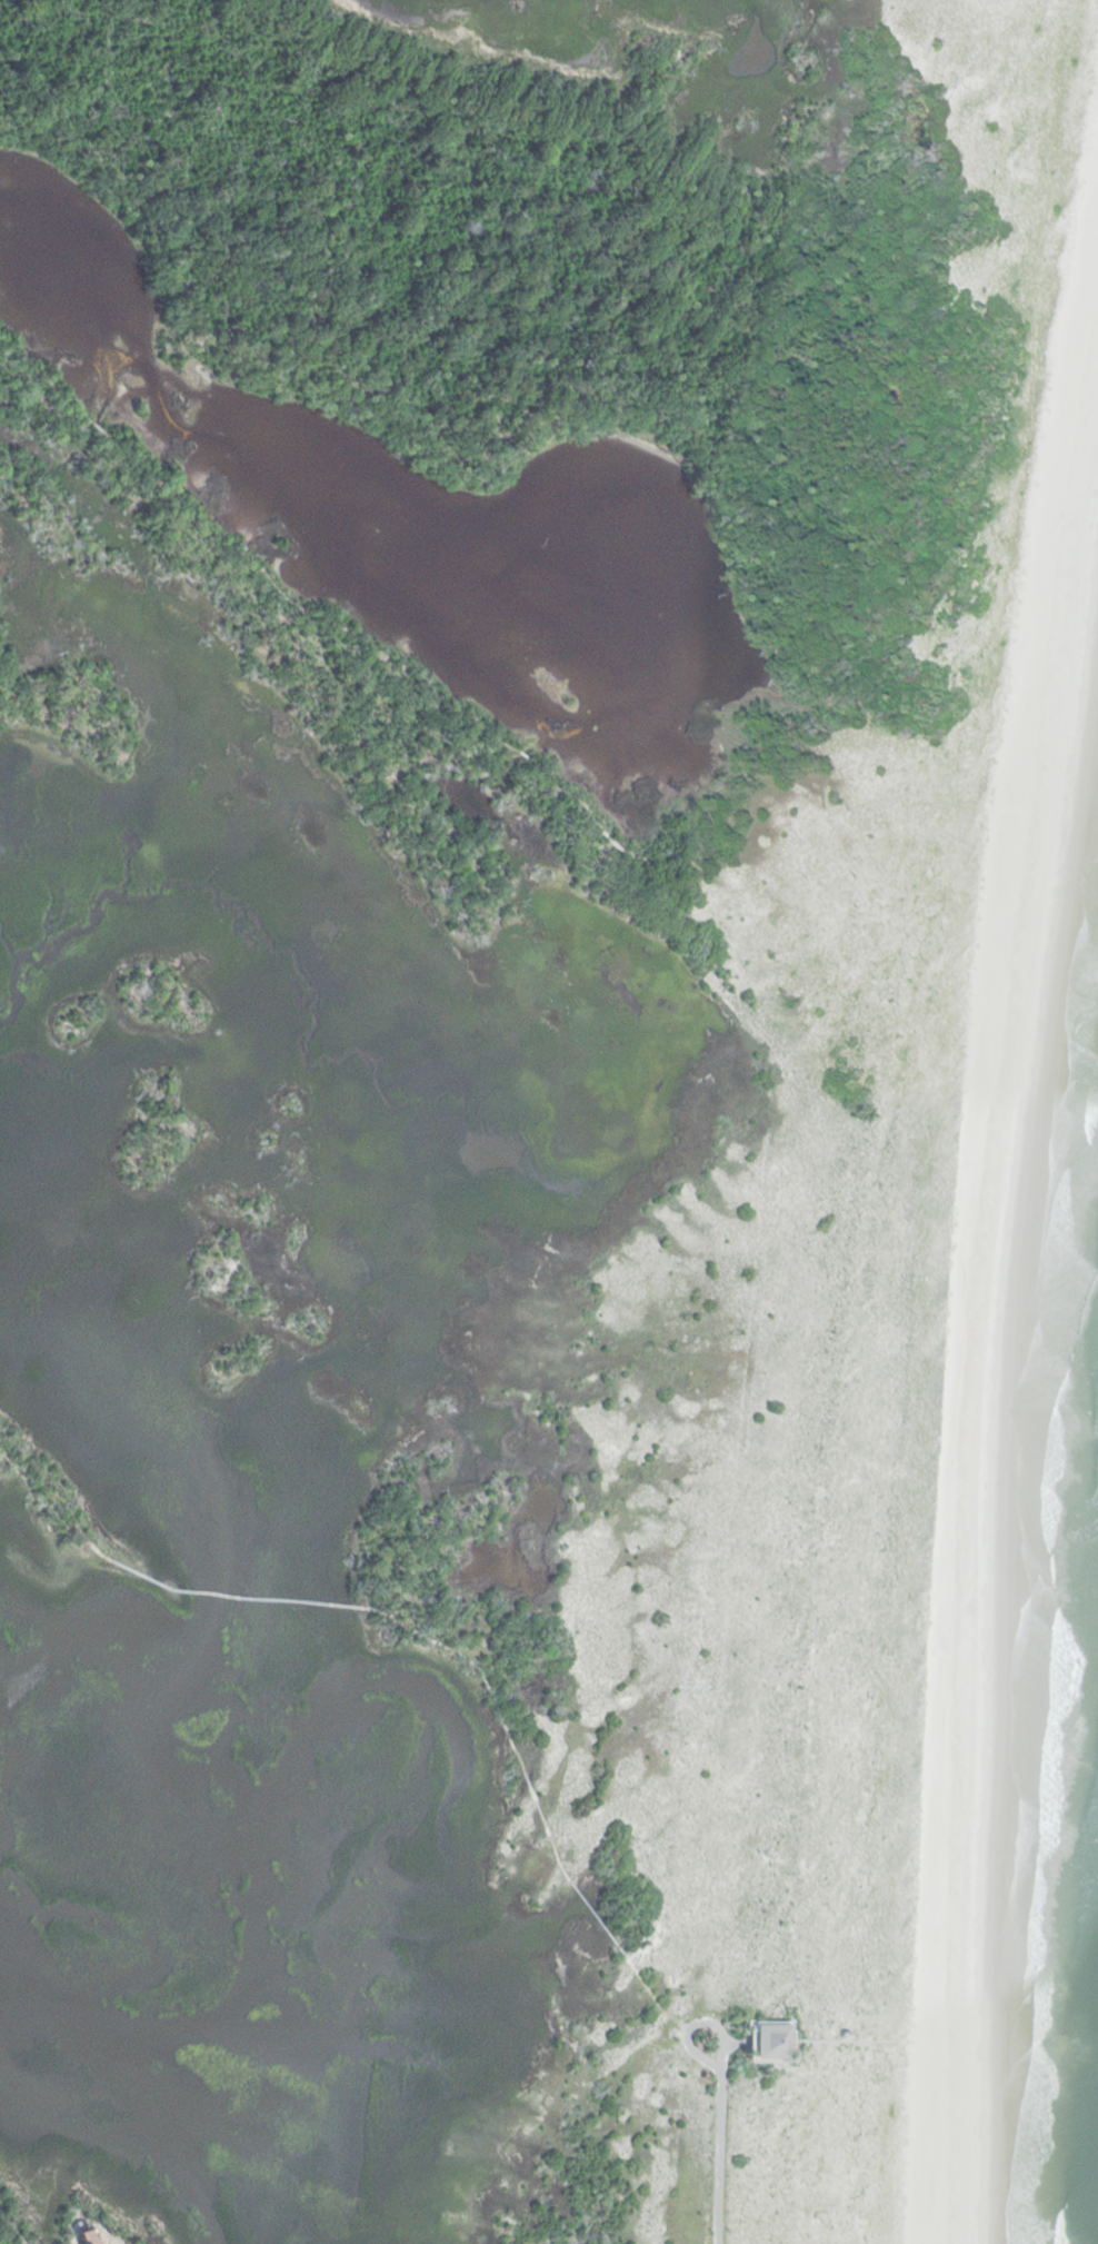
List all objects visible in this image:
road: (693, 2025)
building: (770, 2043)
road: (719, 2155)

